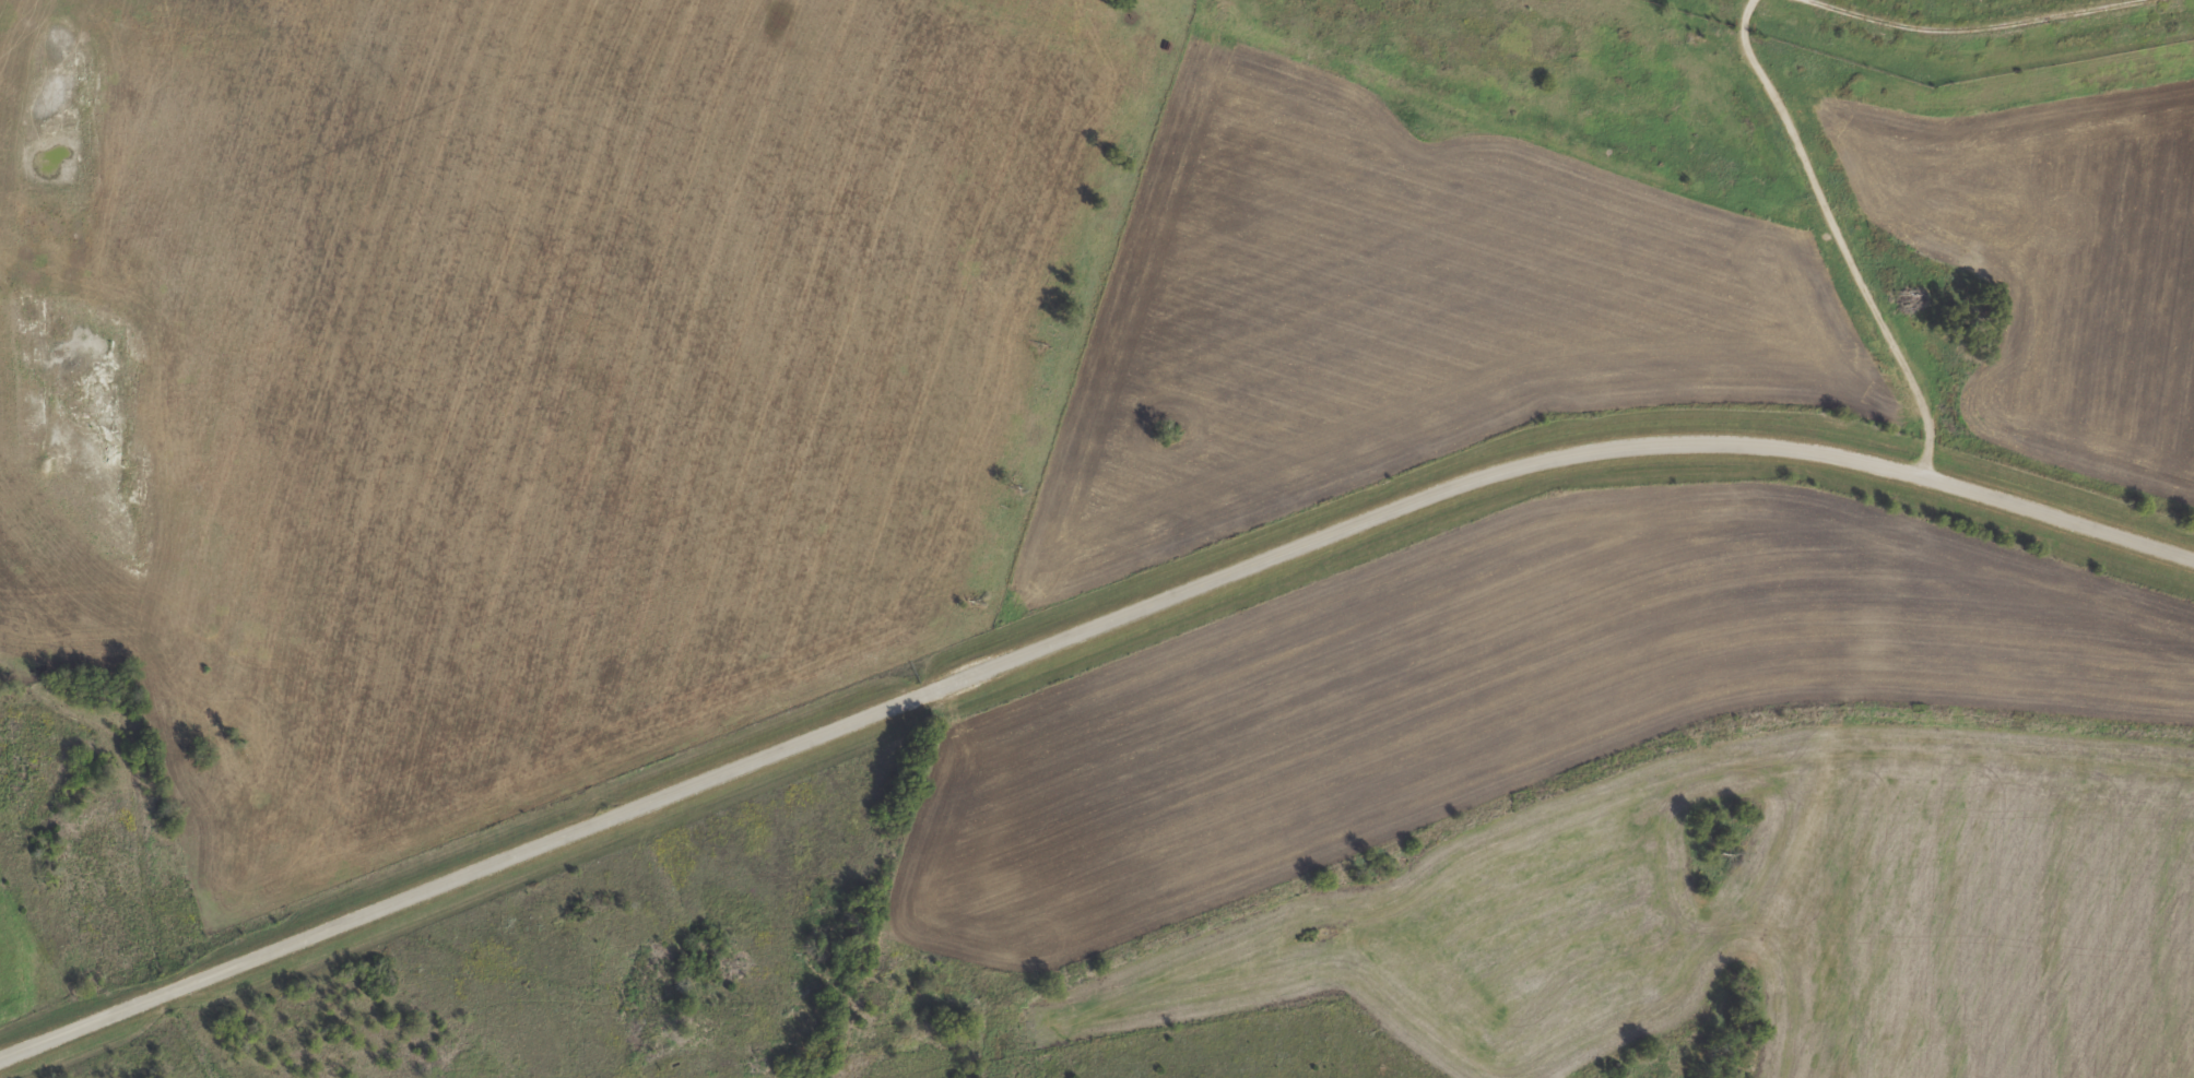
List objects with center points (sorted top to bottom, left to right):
road: (1968, 27)
road: (1083, 638)
railway: (1479, 807)
railway: (840, 1068)

